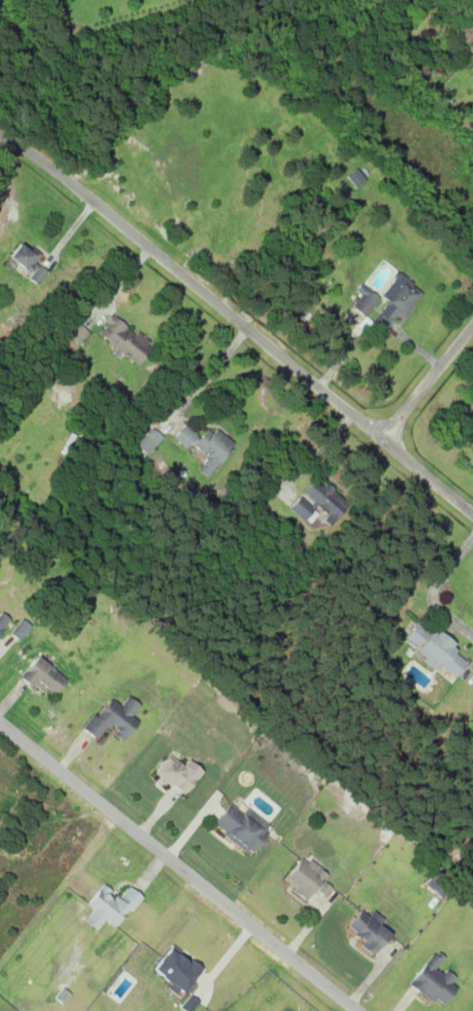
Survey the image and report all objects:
road: (239, 323)
road: (425, 378)
road: (318, 451)
building: (17, 629)
building: (434, 651)
building: (38, 676)
building: (109, 718)
building: (175, 774)
building: (239, 825)
road: (175, 866)
building: (305, 877)
building: (107, 906)
building: (364, 930)
building: (432, 980)

